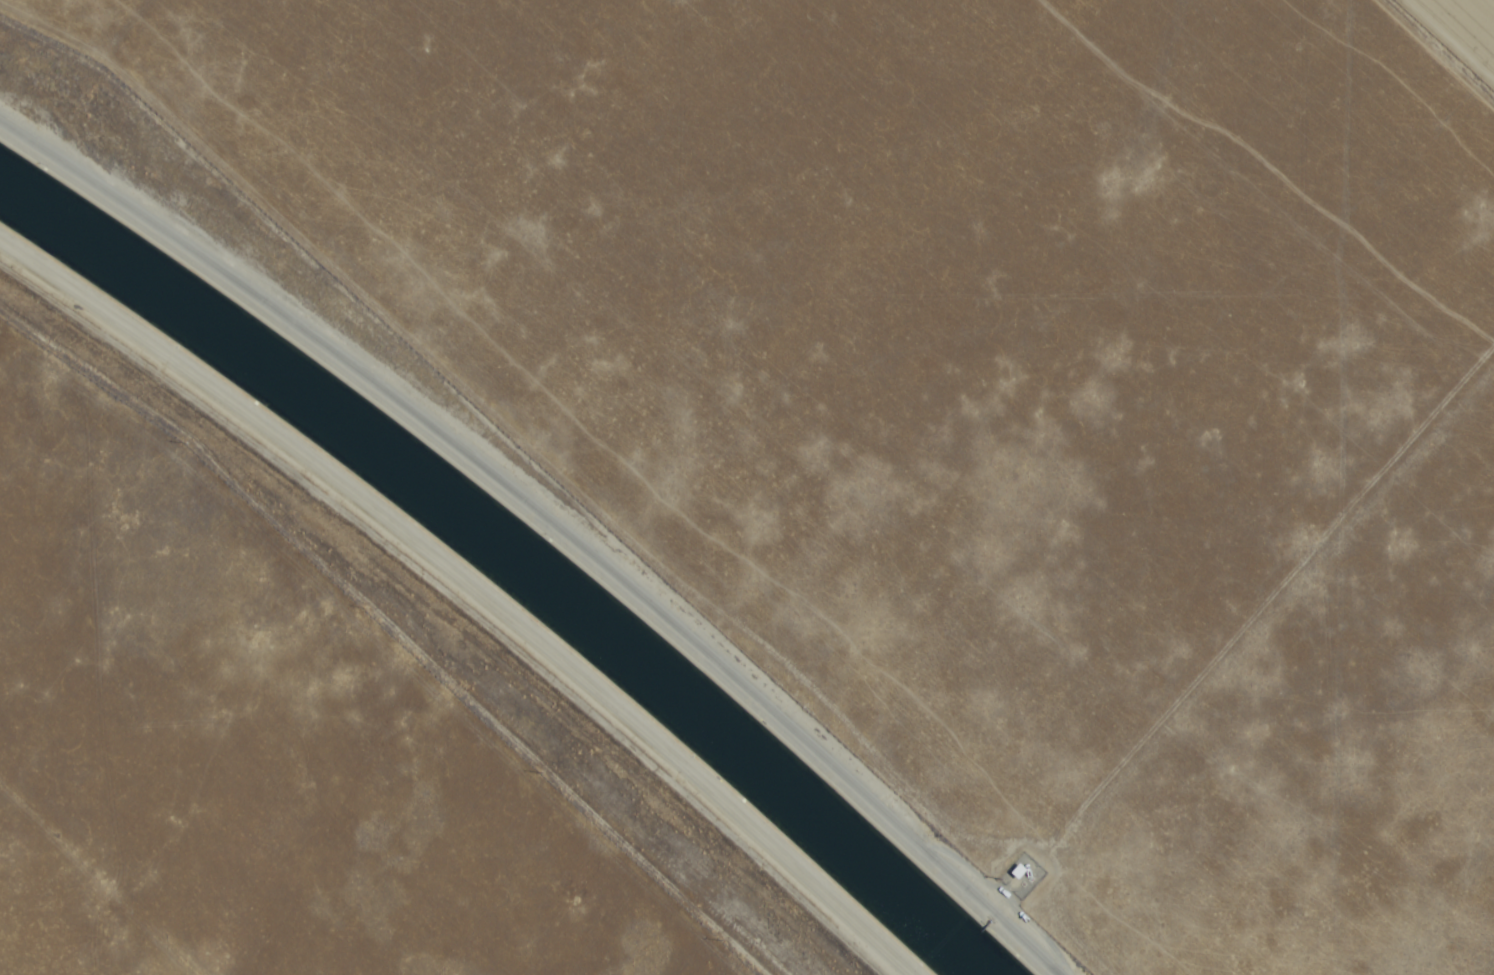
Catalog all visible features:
crop: (1488, 3)
road: (411, 355)
road: (555, 515)
road: (472, 588)

